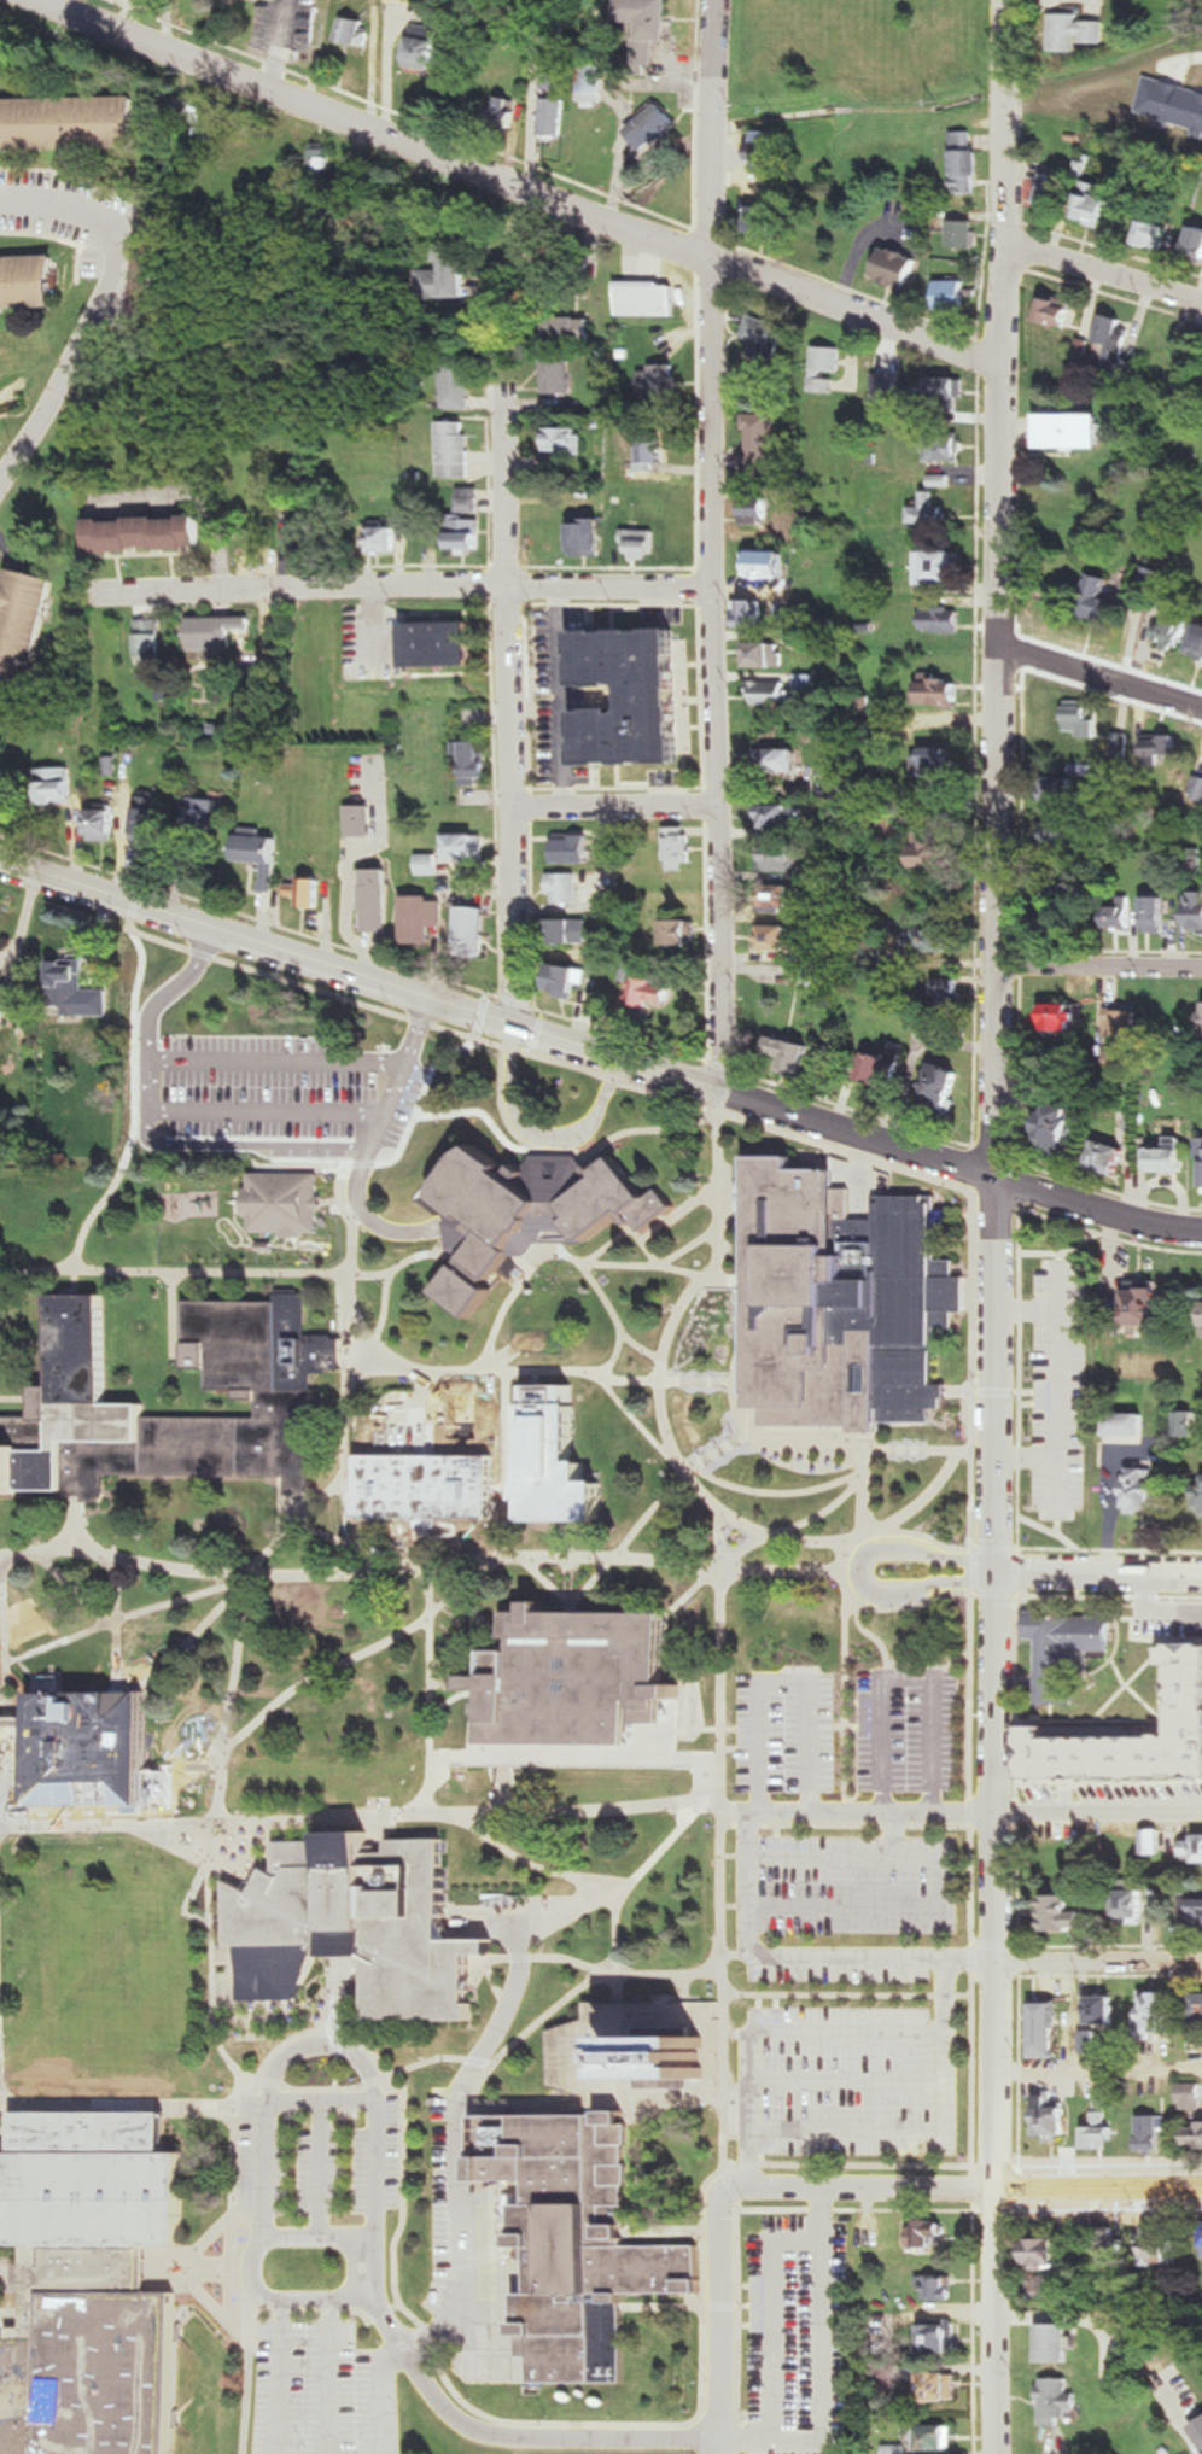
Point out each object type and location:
road: (52, 4)
building: (643, 30)
building: (1075, 31)
building: (357, 33)
road: (279, 46)
building: (424, 48)
park: (859, 54)
building: (554, 78)
building: (588, 86)
building: (504, 111)
building: (553, 118)
building: (70, 123)
building: (654, 127)
road: (727, 132)
road: (378, 133)
building: (766, 150)
building: (965, 164)
road: (1003, 181)
building: (1050, 191)
road: (613, 195)
building: (1097, 204)
parking lot: (76, 226)
building: (961, 234)
building: (1157, 234)
building: (1196, 243)
building: (894, 268)
road: (1102, 268)
building: (144, 276)
building: (449, 276)
building: (31, 282)
building: (950, 296)
building: (646, 299)
building: (1058, 311)
road: (864, 314)
road: (97, 320)
building: (571, 329)
building: (764, 339)
building: (1111, 341)
building: (1159, 347)
building: (825, 369)
building: (559, 376)
building: (457, 384)
building: (660, 385)
building: (887, 385)
building: (947, 390)
building: (1073, 432)
building: (565, 440)
building: (760, 444)
building: (941, 448)
building: (454, 450)
building: (653, 450)
building: (468, 501)
building: (755, 510)
building: (928, 513)
building: (147, 533)
building: (466, 534)
building: (588, 536)
building: (317, 539)
building: (386, 539)
building: (640, 544)
road: (150, 557)
building: (770, 566)
building: (936, 568)
road: (490, 571)
road: (188, 573)
road: (409, 588)
road: (4, 597)
building: (1119, 600)
building: (751, 613)
building: (941, 620)
building: (24, 627)
building: (550, 627)
building: (597, 627)
building: (636, 627)
building: (224, 633)
building: (1173, 635)
building: (157, 641)
building: (443, 643)
building: (1200, 648)
building: (766, 653)
building: (672, 667)
road: (1101, 674)
road: (728, 678)
building: (809, 680)
building: (943, 688)
building: (771, 693)
road: (524, 709)
building: (1080, 719)
building: (1122, 744)
building: (657, 746)
building: (1162, 749)
building: (597, 753)
building: (552, 759)
building: (781, 759)
building: (473, 761)
building: (941, 763)
road: (998, 771)
building: (1201, 772)
building: (57, 785)
building: (1062, 789)
road: (626, 808)
building: (151, 813)
building: (784, 814)
building: (210, 816)
building: (360, 820)
building: (104, 823)
building: (1063, 832)
building: (577, 843)
building: (466, 847)
building: (678, 851)
building: (263, 854)
building: (933, 855)
building: (786, 857)
road: (70, 858)
building: (428, 864)
building: (1185, 865)
building: (564, 888)
building: (310, 890)
building: (782, 895)
building: (375, 900)
building: (605, 905)
building: (1057, 906)
building: (1119, 911)
building: (1197, 911)
building: (1157, 913)
building: (422, 917)
building: (682, 930)
building: (472, 931)
building: (576, 931)
building: (784, 936)
building: (929, 939)
road: (1099, 962)
road: (438, 976)
building: (568, 981)
building: (654, 987)
building: (952, 989)
building: (76, 992)
building: (14, 994)
building: (1064, 1013)
road: (498, 1019)
building: (1121, 1022)
building: (794, 1053)
building: (892, 1063)
road: (274, 1075)
road: (638, 1087)
building: (944, 1089)
parking lot: (263, 1102)
road: (450, 1108)
building: (1060, 1124)
road: (227, 1128)
road: (542, 1134)
road: (967, 1145)
road: (573, 1152)
building: (1111, 1156)
building: (1168, 1156)
road: (110, 1194)
building: (285, 1203)
building: (543, 1208)
road: (1099, 1209)
road: (362, 1213)
road: (690, 1246)
road: (1055, 1252)
road: (1058, 1260)
road: (574, 1263)
road: (664, 1266)
road: (175, 1270)
road: (174, 1279)
road: (1, 1285)
building: (841, 1299)
building: (1149, 1304)
road: (1033, 1310)
road: (181, 1311)
road: (377, 1346)
road: (614, 1355)
road: (348, 1359)
road: (504, 1371)
road: (659, 1375)
road: (1006, 1375)
parking lot: (1058, 1389)
road: (1032, 1391)
road: (1058, 1391)
road: (969, 1393)
road: (14, 1397)
building: (70, 1398)
road: (345, 1414)
building: (1130, 1425)
road: (740, 1428)
road: (963, 1450)
building: (545, 1459)
road: (1032, 1460)
road: (506, 1462)
road: (713, 1478)
building: (428, 1484)
building: (1145, 1490)
road: (862, 1492)
road: (920, 1501)
road: (298, 1521)
road: (1058, 1526)
road: (75, 1529)
road: (1055, 1535)
road: (630, 1537)
road: (427, 1541)
road: (745, 1549)
road: (924, 1553)
road: (508, 1555)
road: (428, 1564)
road: (1099, 1576)
road: (920, 1589)
road: (75, 1591)
road: (497, 1611)
road: (594, 1611)
road: (126, 1617)
road: (117, 1623)
road: (492, 1629)
road: (243, 1631)
road: (196, 1632)
building: (1178, 1632)
road: (880, 1642)
road: (958, 1658)
building: (1067, 1659)
road: (447, 1669)
road: (319, 1675)
building: (578, 1676)
road: (786, 1683)
road: (911, 1684)
road: (430, 1688)
road: (846, 1694)
park: (331, 1698)
road: (2, 1719)
road: (18, 1720)
building: (2, 1722)
road: (848, 1726)
road: (741, 1729)
parking lot: (908, 1729)
parking lot: (784, 1733)
building: (1201, 1745)
building: (95, 1747)
road: (595, 1755)
road: (442, 1760)
building: (1074, 1771)
road: (1098, 1812)
road: (375, 1815)
road: (182, 1817)
road: (898, 1836)
building: (1153, 1841)
building: (1195, 1847)
road: (736, 1854)
road: (535, 1863)
road: (722, 1876)
road: (749, 1883)
parking lot: (858, 1885)
road: (625, 1886)
road: (943, 1887)
road: (188, 1903)
road: (735, 1906)
building: (1132, 1907)
building: (1200, 1907)
building: (1068, 1911)
building: (363, 1924)
road: (618, 1929)
road: (735, 1953)
road: (212, 1956)
road: (545, 1958)
park: (109, 1962)
road: (1098, 1967)
parking lot: (841, 1975)
road: (332, 1992)
road: (574, 1992)
road: (857, 1994)
road: (752, 2011)
building: (1104, 2011)
building: (1198, 2011)
road: (993, 2012)
road: (272, 2017)
building: (1154, 2020)
building: (1048, 2029)
road: (766, 2031)
road: (304, 2032)
road: (734, 2033)
road: (323, 2044)
building: (635, 2055)
road: (438, 2059)
road: (1097, 2073)
road: (846, 2082)
parking lot: (857, 2082)
road: (319, 2088)
building: (1191, 2097)
road: (133, 2102)
road: (323, 2104)
road: (462, 2108)
building: (1055, 2117)
building: (1101, 2125)
building: (1154, 2127)
road: (933, 2134)
road: (0, 2139)
road: (234, 2151)
parking lot: (342, 2161)
road: (325, 2170)
road: (959, 2190)
road: (418, 2197)
parking lot: (457, 2211)
road: (832, 2216)
building: (928, 2237)
building: (584, 2240)
building: (838, 2240)
road: (264, 2242)
building: (1165, 2242)
road: (830, 2244)
building: (1113, 2248)
building: (777, 2253)
building: (1051, 2254)
road: (168, 2268)
road: (196, 2273)
road: (7, 2279)
building: (86, 2284)
building: (941, 2289)
road: (713, 2310)
road: (10, 2315)
road: (722, 2320)
building: (946, 2338)
building: (1060, 2344)
road: (253, 2372)
road: (290, 2376)
road: (342, 2376)
parking lot: (799, 2388)
building: (944, 2388)
parking lot: (325, 2390)
road: (390, 2395)
building: (1060, 2403)
building: (1201, 2423)
road: (539, 2425)
road: (513, 2437)
road: (751, 2440)
building: (941, 2440)

